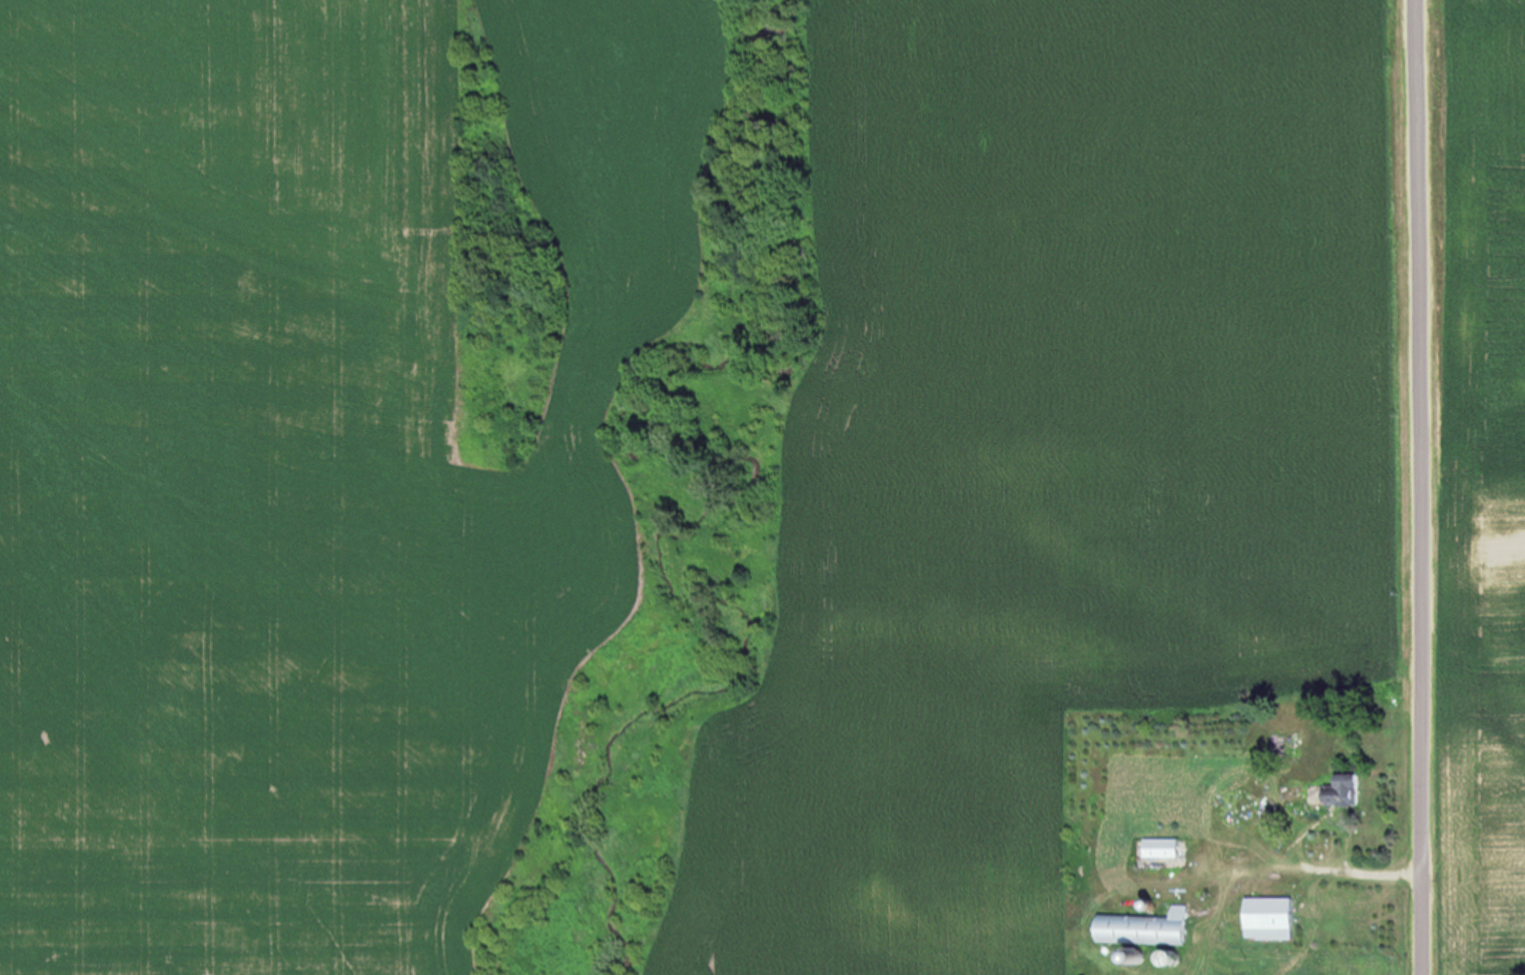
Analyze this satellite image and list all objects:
road: (1417, 487)
building: (1335, 792)
building: (1169, 848)
building: (1277, 918)
building: (1155, 927)

